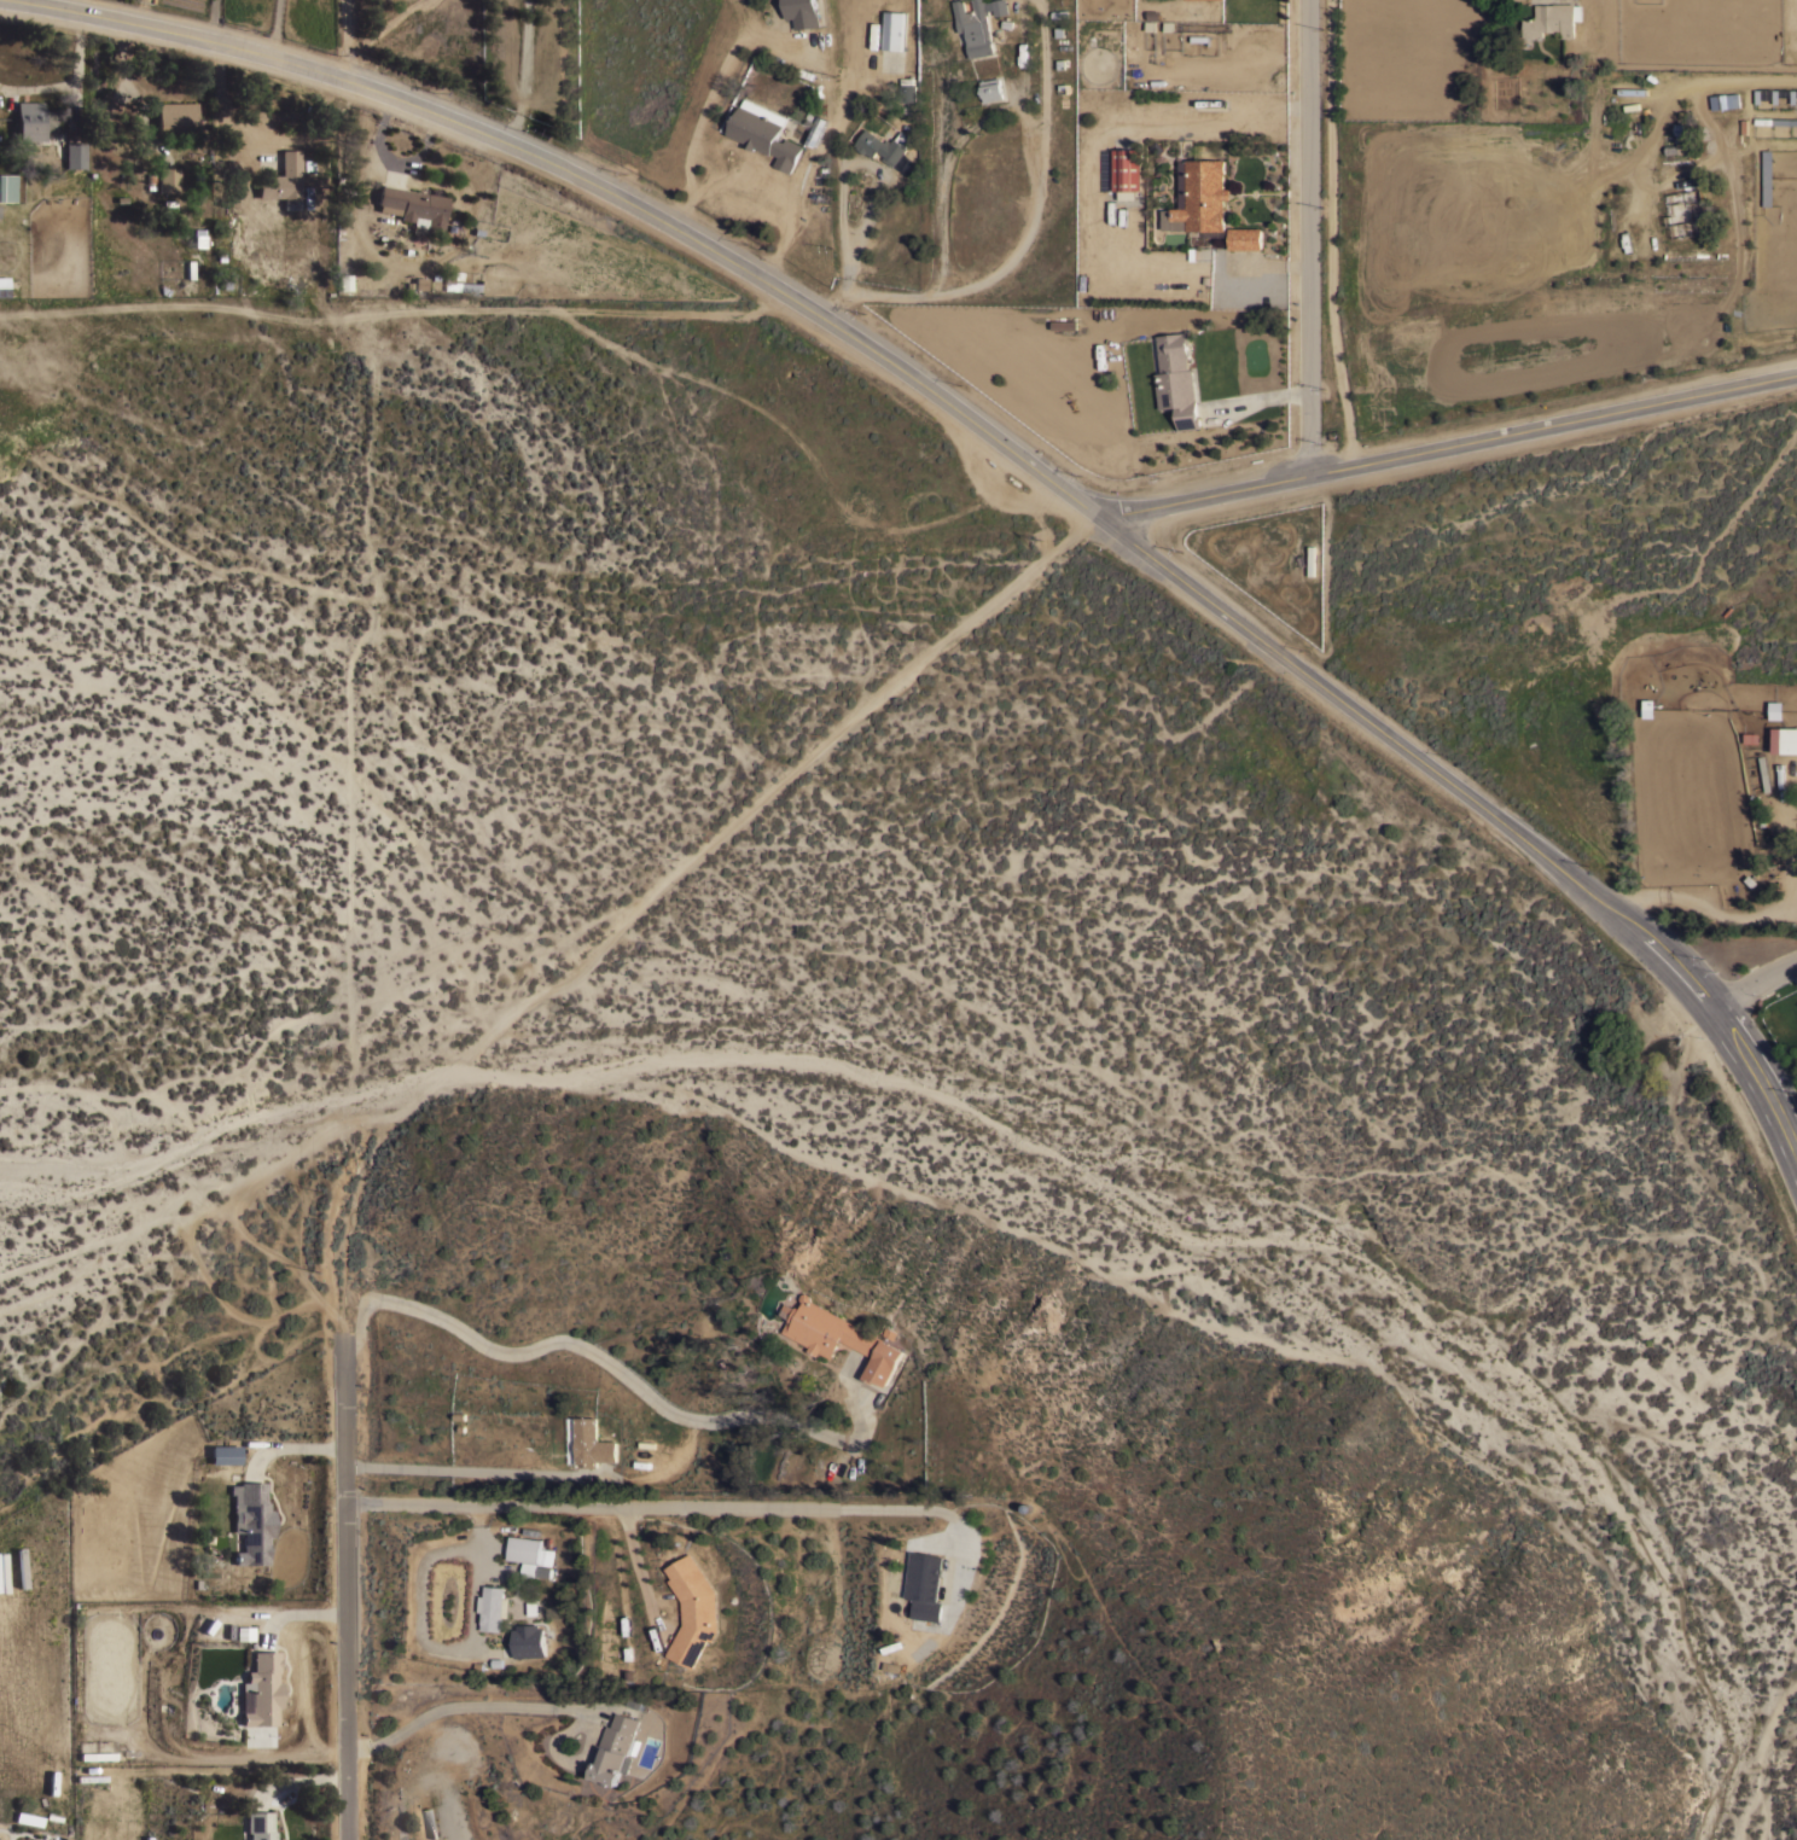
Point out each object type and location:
building: (1000, 6)
building: (802, 12)
building: (1549, 19)
building: (975, 25)
building: (894, 29)
road: (348, 39)
road: (70, 78)
building: (907, 88)
building: (990, 88)
building: (1725, 100)
building: (175, 117)
building: (33, 121)
building: (764, 133)
building: (816, 133)
building: (883, 145)
building: (1679, 146)
building: (74, 155)
road: (1031, 158)
building: (1127, 169)
building: (167, 179)
building: (283, 180)
road: (761, 184)
building: (7, 186)
building: (1200, 197)
road: (841, 198)
building: (413, 206)
building: (1691, 211)
road: (1308, 235)
building: (1245, 238)
building: (197, 241)
building: (285, 258)
building: (1, 280)
building: (344, 281)
building: (458, 283)
building: (4, 290)
building: (1176, 379)
road: (1257, 398)
road: (993, 435)
road: (1449, 448)
road: (1066, 541)
road: (1014, 583)
river: (463, 647)
road: (859, 716)
building: (1783, 739)
road: (708, 848)
road: (1708, 906)
road: (636, 908)
road: (558, 974)
road: (1760, 982)
road: (516, 1009)
road: (484, 1035)
road: (362, 1168)
building: (842, 1337)
road: (620, 1370)
building: (592, 1443)
building: (223, 1454)
road: (461, 1472)
road: (656, 1504)
building: (251, 1521)
building: (527, 1549)
building: (528, 1570)
building: (930, 1576)
building: (956, 1588)
road: (344, 1589)
building: (492, 1607)
building: (692, 1608)
building: (214, 1632)
building: (243, 1634)
building: (603, 1637)
building: (527, 1641)
building: (262, 1689)
building: (613, 1748)
building: (91, 1776)
building: (29, 1818)
building: (450, 1821)
building: (430, 1822)
building: (260, 1826)

